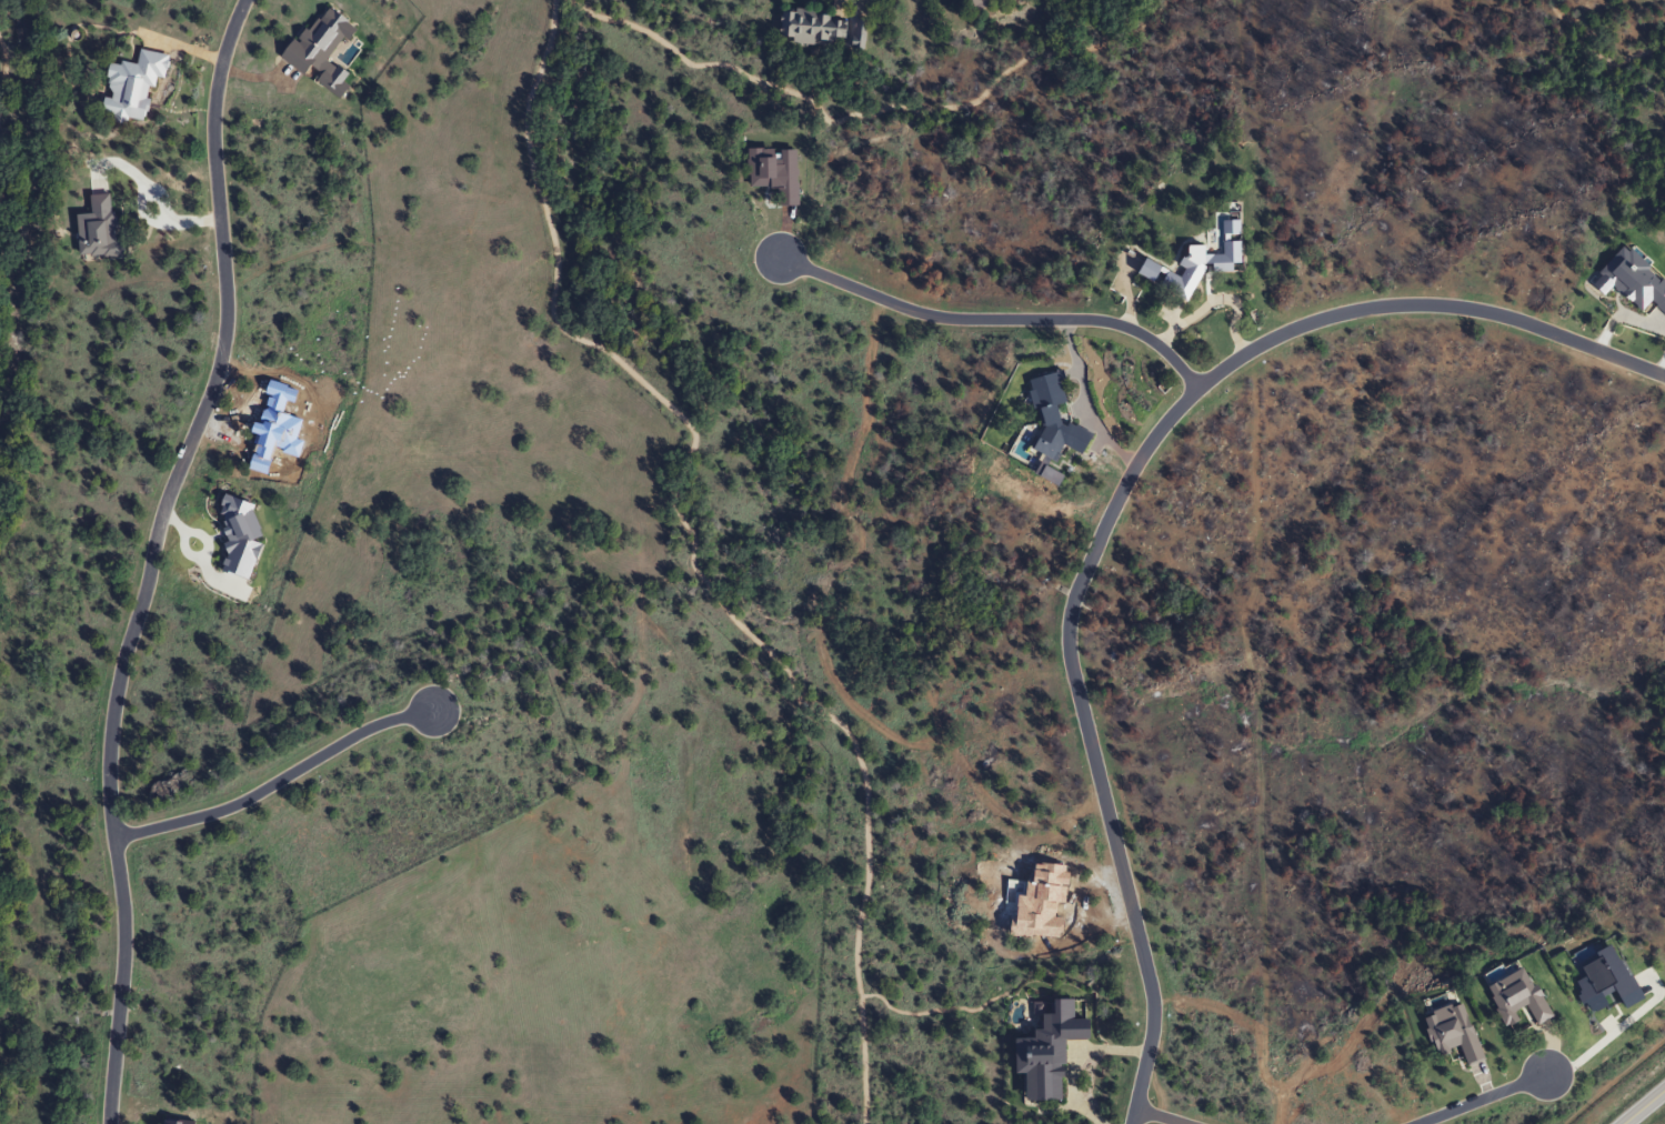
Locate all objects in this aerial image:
building: (810, 28)
building: (128, 87)
building: (1192, 262)
road: (994, 320)
road: (1114, 502)
road: (150, 556)
road: (273, 782)
road: (1481, 1098)
road: (1644, 1105)
road: (1161, 1116)

